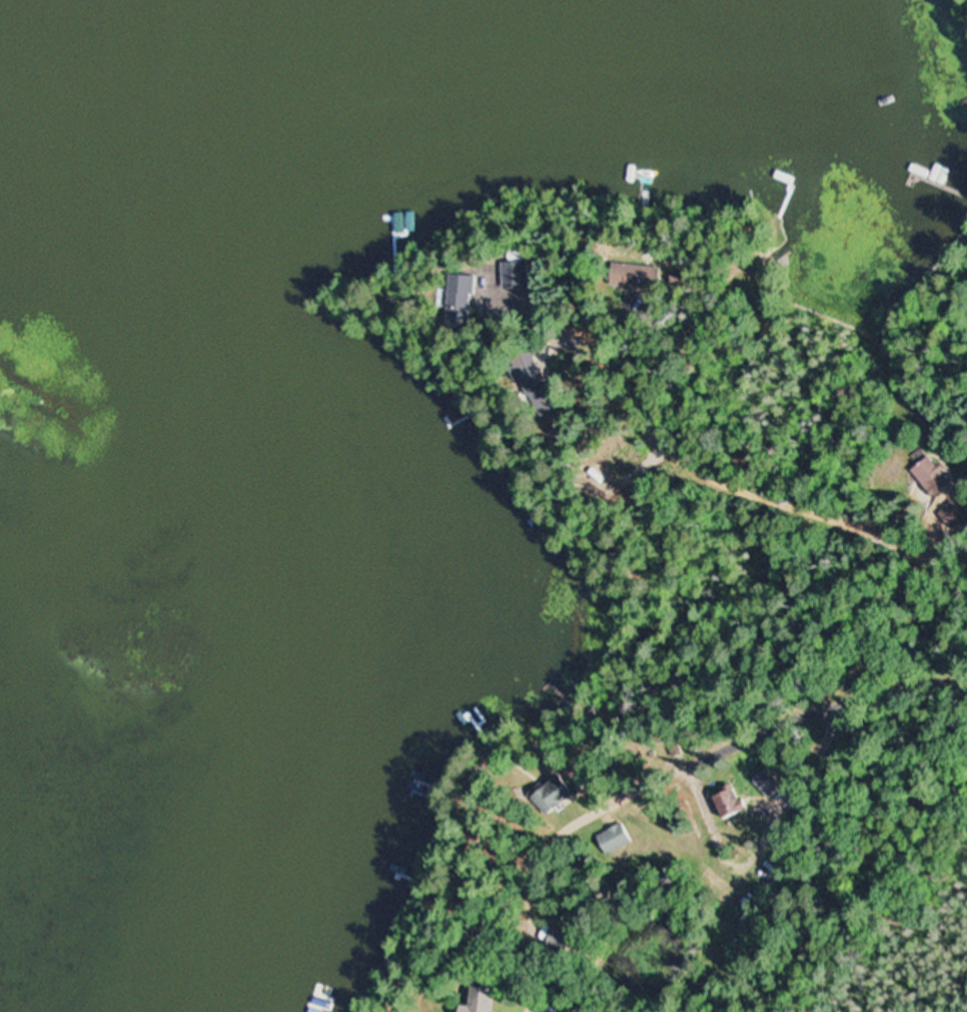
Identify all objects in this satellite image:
building: (937, 174)
building: (506, 275)
building: (629, 276)
building: (449, 292)
building: (528, 382)
building: (928, 476)
road: (752, 488)
building: (955, 514)
road: (694, 758)
building: (766, 782)
building: (548, 794)
building: (726, 800)
building: (611, 838)
building: (477, 999)

